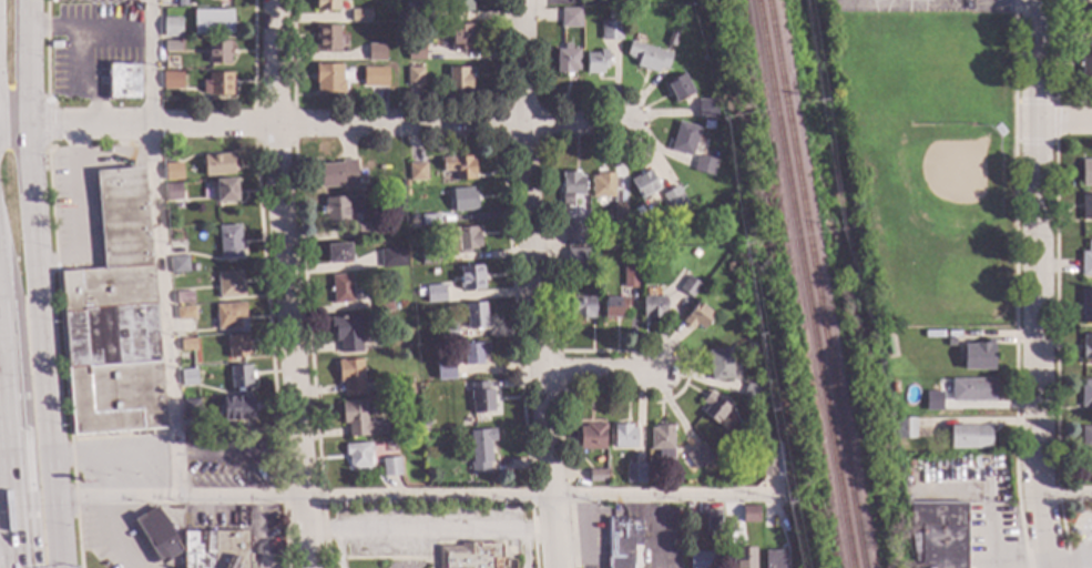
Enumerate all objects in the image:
road: (1014, 2)
building: (460, 4)
building: (327, 6)
building: (415, 12)
building: (359, 16)
building: (613, 16)
building: (571, 18)
building: (1085, 18)
building: (213, 22)
building: (172, 27)
road: (89, 30)
building: (611, 30)
building: (460, 37)
building: (326, 38)
building: (672, 39)
building: (171, 45)
building: (416, 51)
building: (218, 52)
building: (376, 52)
building: (649, 57)
building: (567, 60)
building: (596, 62)
road: (30, 63)
building: (1085, 67)
building: (415, 77)
building: (378, 78)
building: (328, 79)
building: (172, 80)
building: (458, 80)
road: (79, 81)
building: (123, 82)
building: (217, 84)
building: (678, 88)
building: (707, 109)
road: (1065, 122)
road: (313, 126)
building: (684, 139)
building: (217, 165)
building: (705, 165)
building: (459, 168)
building: (416, 172)
building: (172, 173)
building: (1085, 173)
building: (338, 174)
building: (405, 184)
building: (644, 184)
building: (602, 185)
building: (572, 189)
building: (225, 191)
building: (173, 193)
building: (674, 199)
building: (463, 200)
building: (340, 207)
building: (1086, 207)
road: (83, 213)
building: (619, 215)
building: (429, 220)
building: (720, 223)
building: (366, 230)
building: (575, 233)
building: (462, 240)
building: (229, 242)
road: (157, 248)
building: (338, 253)
building: (694, 253)
building: (575, 254)
building: (430, 257)
building: (392, 258)
building: (1086, 261)
building: (178, 265)
building: (729, 267)
building: (470, 277)
building: (630, 277)
road: (293, 284)
road: (538, 284)
railway: (800, 284)
railway: (812, 284)
road: (1039, 284)
building: (228, 286)
building: (688, 286)
building: (341, 288)
building: (420, 293)
building: (435, 294)
building: (183, 298)
building: (382, 303)
building: (581, 307)
building: (614, 307)
building: (653, 307)
building: (1085, 307)
building: (185, 314)
building: (476, 315)
building: (228, 316)
building: (697, 317)
building: (114, 321)
building: (433, 332)
building: (346, 333)
building: (448, 333)
building: (949, 342)
building: (187, 344)
building: (237, 346)
building: (889, 346)
road: (45, 347)
building: (1086, 347)
building: (474, 353)
building: (978, 356)
building: (720, 365)
building: (445, 369)
road: (602, 373)
building: (350, 376)
building: (188, 377)
building: (239, 377)
building: (406, 377)
building: (404, 385)
building: (892, 387)
building: (972, 390)
building: (426, 392)
building: (752, 392)
building: (1085, 394)
building: (480, 398)
building: (932, 400)
building: (407, 402)
building: (190, 408)
building: (236, 408)
building: (714, 408)
building: (359, 420)
building: (425, 423)
building: (905, 428)
building: (423, 434)
building: (591, 436)
building: (623, 436)
building: (969, 437)
building: (1085, 438)
building: (661, 442)
building: (480, 450)
road: (241, 453)
building: (357, 455)
road: (113, 457)
building: (697, 457)
building: (908, 460)
road: (8, 463)
building: (768, 466)
building: (390, 467)
building: (634, 474)
building: (596, 476)
building: (465, 484)
road: (3, 493)
road: (416, 495)
road: (1067, 495)
building: (749, 514)
building: (713, 520)
road: (433, 531)
building: (157, 534)
building: (938, 535)
building: (622, 541)
building: (215, 550)
building: (470, 556)
building: (745, 558)
building: (775, 559)
building: (700, 560)
road: (1073, 560)

